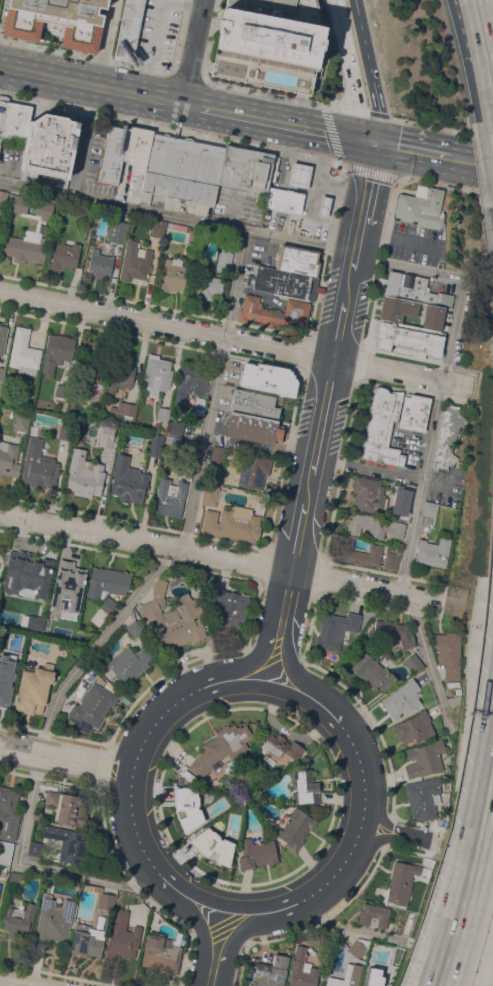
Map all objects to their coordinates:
road: (474, 12)
road: (479, 12)
building: (56, 21)
road: (155, 27)
building: (128, 30)
building: (270, 43)
road: (488, 47)
road: (192, 52)
road: (85, 54)
road: (369, 70)
road: (348, 72)
road: (186, 74)
road: (91, 84)
road: (264, 91)
building: (2, 112)
road: (277, 122)
building: (16, 125)
road: (429, 125)
road: (171, 127)
road: (330, 128)
road: (85, 141)
traffic signals: (374, 141)
building: (49, 149)
road: (412, 149)
building: (137, 152)
building: (111, 154)
road: (320, 157)
road: (301, 158)
road: (461, 160)
building: (170, 167)
building: (245, 169)
building: (207, 173)
road: (278, 174)
building: (299, 175)
road: (436, 184)
road: (316, 200)
building: (2, 201)
building: (284, 201)
building: (18, 204)
road: (333, 204)
building: (323, 206)
building: (421, 207)
building: (44, 211)
building: (85, 213)
road: (176, 217)
road: (389, 219)
building: (158, 229)
building: (117, 231)
building: (193, 237)
road: (393, 238)
building: (26, 246)
building: (64, 255)
building: (224, 258)
building: (298, 260)
building: (134, 262)
building: (99, 265)
building: (173, 275)
building: (284, 283)
building: (208, 287)
building: (414, 290)
building: (391, 309)
building: (274, 312)
building: (433, 317)
building: (2, 338)
road: (235, 338)
building: (408, 339)
building: (24, 352)
building: (56, 352)
building: (120, 372)
building: (2, 373)
building: (90, 374)
building: (157, 374)
building: (263, 378)
building: (190, 384)
building: (63, 391)
building: (256, 402)
building: (123, 408)
road: (322, 410)
building: (414, 412)
building: (163, 413)
building: (21, 423)
building: (174, 427)
building: (252, 428)
building: (381, 428)
building: (34, 430)
building: (65, 433)
building: (447, 437)
building: (107, 443)
building: (159, 445)
building: (183, 448)
road: (427, 449)
building: (217, 456)
building: (9, 458)
building: (233, 460)
building: (38, 466)
road: (367, 467)
building: (253, 470)
building: (84, 474)
building: (128, 480)
building: (404, 491)
building: (212, 494)
building: (368, 495)
building: (170, 496)
building: (430, 508)
building: (233, 523)
building: (374, 525)
building: (433, 551)
building: (14, 553)
building: (360, 553)
road: (217, 556)
building: (391, 560)
building: (31, 575)
building: (68, 582)
building: (107, 585)
building: (199, 591)
building: (230, 612)
building: (8, 617)
building: (173, 617)
road: (116, 620)
building: (35, 622)
building: (70, 625)
road: (249, 625)
building: (135, 628)
building: (336, 629)
building: (391, 633)
building: (84, 636)
building: (449, 653)
building: (397, 658)
building: (127, 663)
building: (413, 663)
building: (372, 672)
building: (6, 683)
building: (34, 688)
road: (180, 698)
building: (401, 699)
building: (92, 706)
road: (239, 707)
building: (414, 727)
road: (346, 732)
building: (280, 746)
building: (219, 748)
road: (65, 759)
building: (425, 759)
building: (304, 787)
building: (424, 797)
building: (186, 806)
building: (67, 808)
building: (8, 813)
building: (38, 816)
building: (296, 829)
road: (397, 834)
building: (67, 843)
building: (212, 845)
building: (35, 848)
building: (5, 853)
building: (256, 853)
road: (150, 860)
building: (2, 873)
road: (471, 873)
building: (16, 878)
building: (401, 882)
road: (308, 894)
building: (106, 901)
building: (373, 916)
building: (18, 920)
building: (53, 920)
road: (344, 929)
building: (122, 936)
building: (87, 940)
building: (356, 947)
road: (215, 948)
building: (161, 952)
building: (302, 969)
building: (271, 972)
building: (346, 976)
road: (435, 979)
road: (441, 979)
road: (14, 983)

